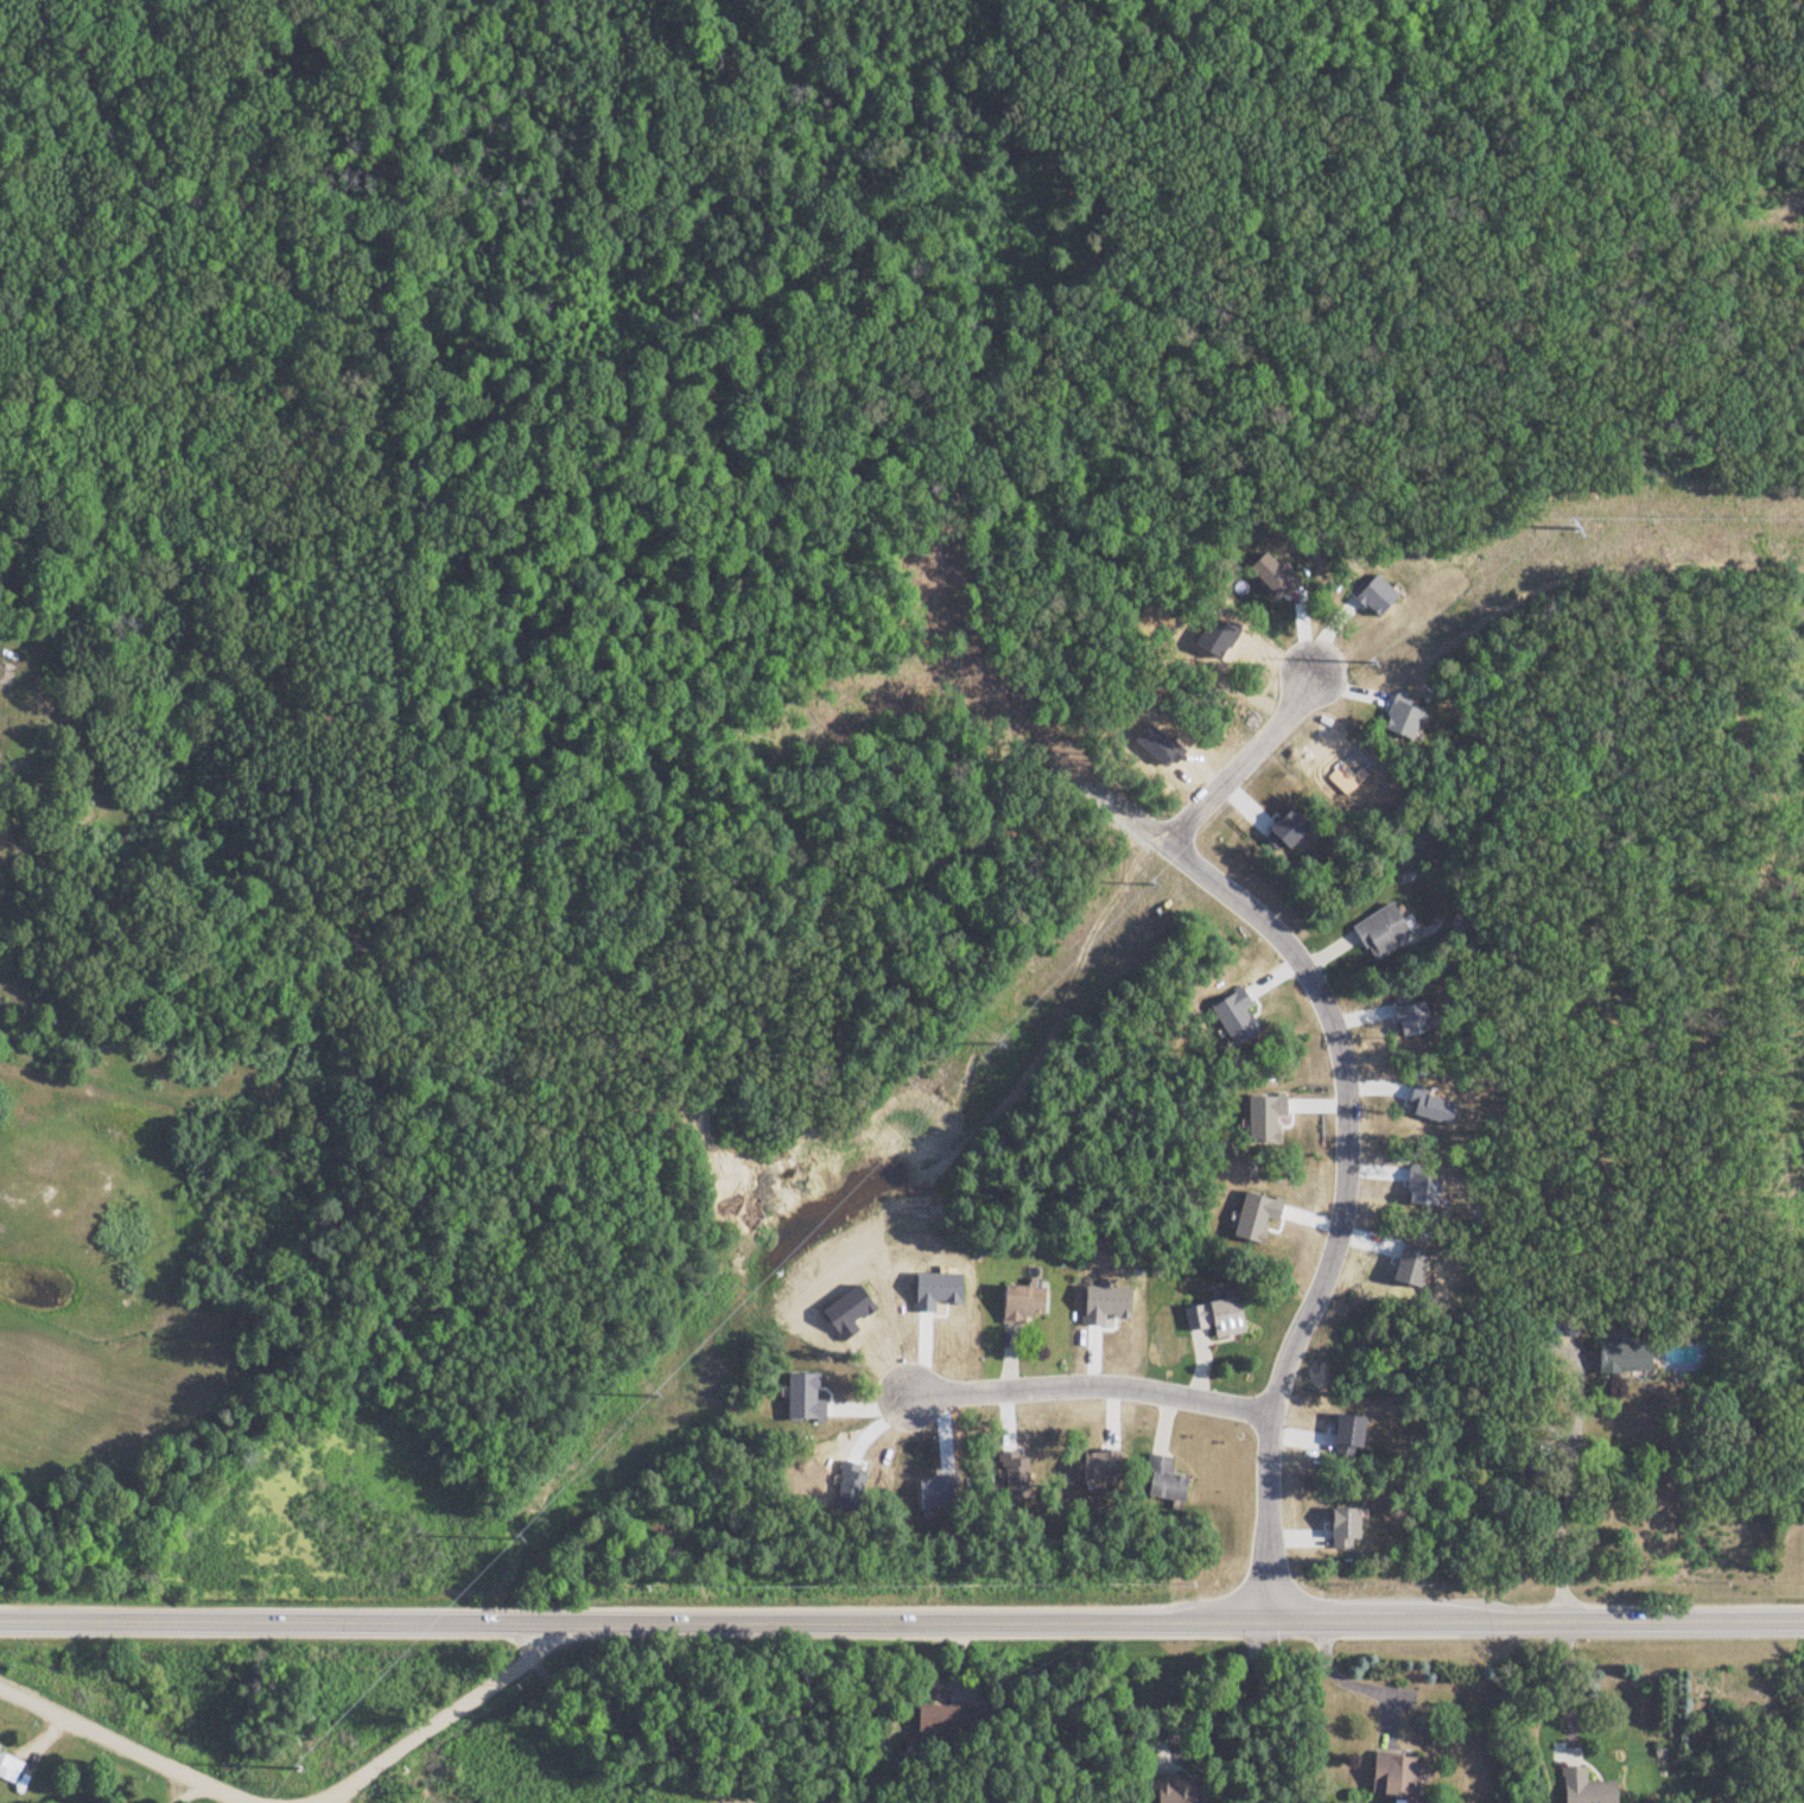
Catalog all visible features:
power tower: (1577, 529)
power tower: (1371, 664)
road: (1238, 760)
power tower: (1151, 884)
building: (1380, 933)
power tower: (998, 1043)
road: (1342, 1158)
building: (1021, 1304)
building: (1214, 1319)
building: (1624, 1357)
road: (1088, 1386)
power tower: (656, 1393)
road: (1575, 1407)
building: (1163, 1487)
power tower: (520, 1539)
road: (280, 1620)
road: (1182, 1623)
road: (1353, 1678)
road: (1568, 1685)
road: (1233, 1688)
road: (442, 1715)
building: (952, 1721)
road: (122, 1747)
building: (8, 1767)
power tower: (297, 1769)
building: (1387, 1776)
building: (1586, 1789)
building: (1174, 1797)

